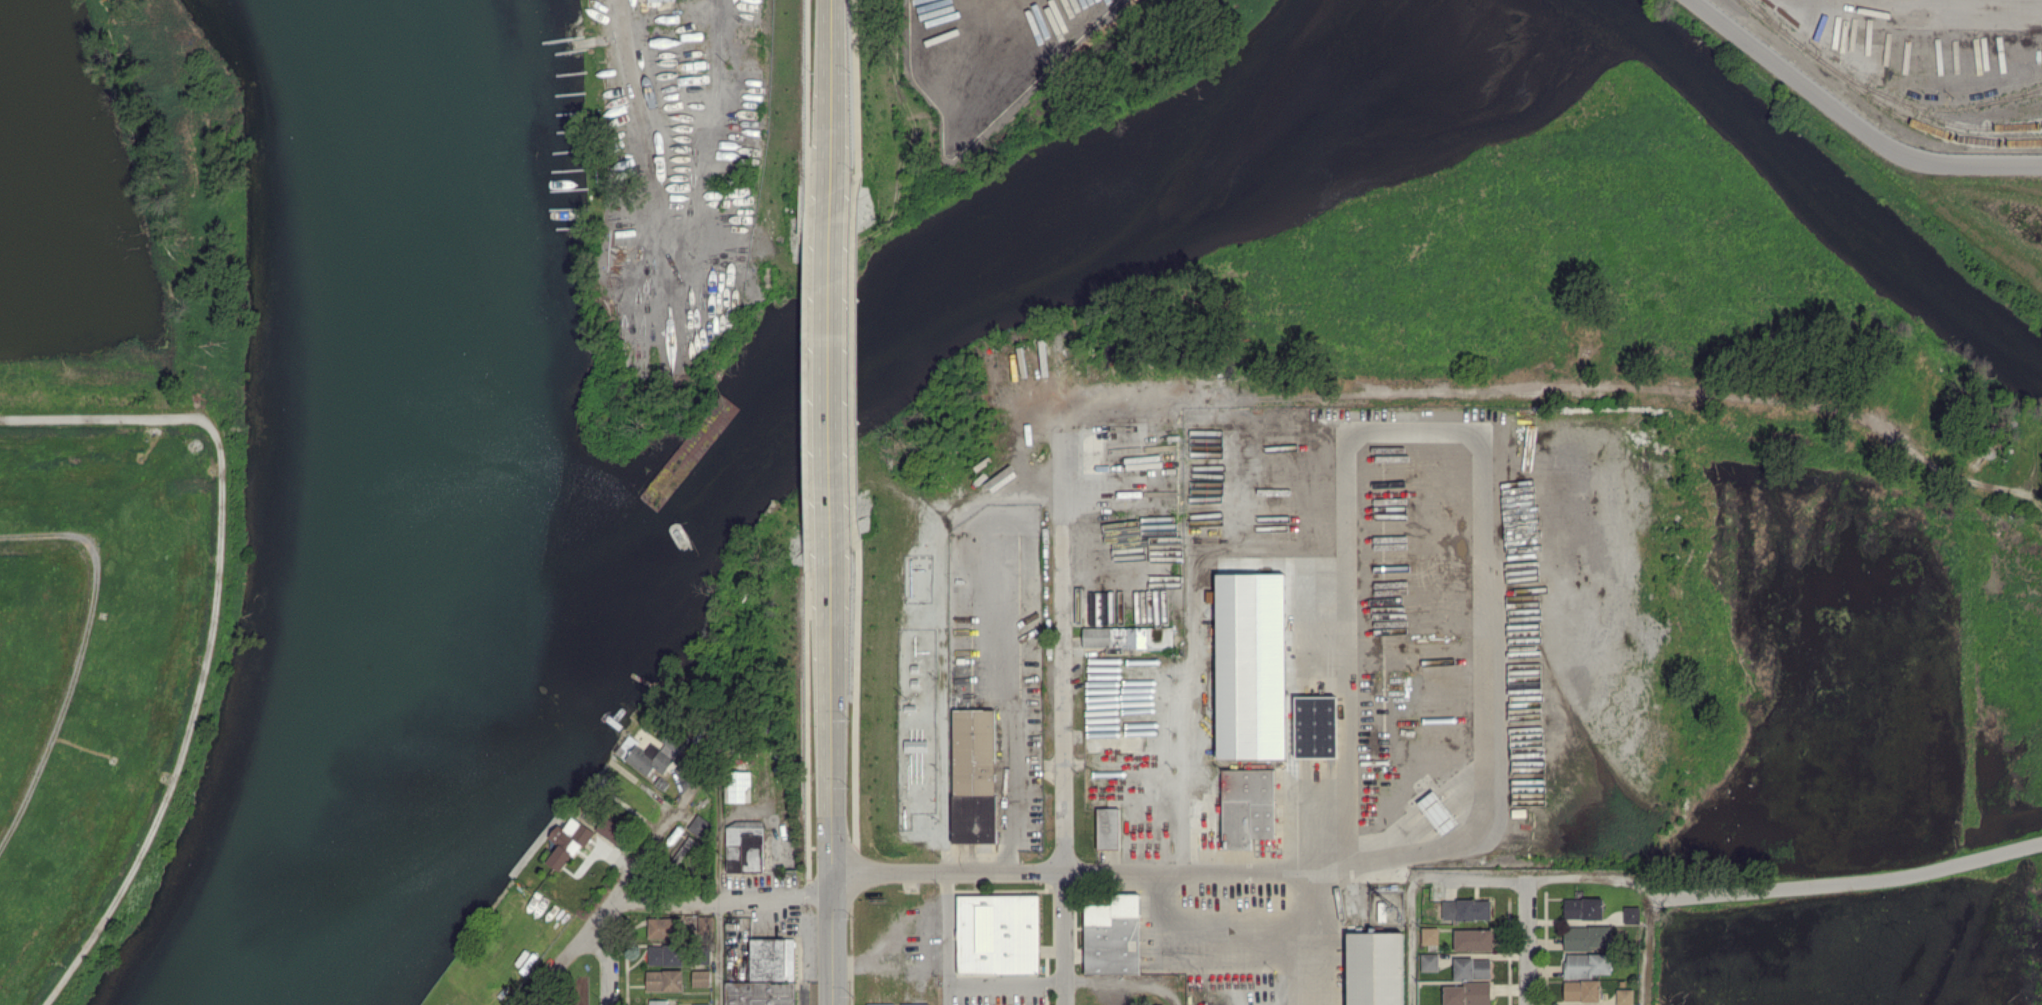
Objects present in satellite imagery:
railway: (1775, 22)
river: (1371, 90)
road: (830, 93)
railway: (2009, 98)
railway: (1877, 102)
railway: (1925, 105)
railway: (1950, 122)
railway: (2013, 123)
road: (1852, 124)
road: (668, 162)
road: (1479, 438)
road: (831, 451)
river: (409, 509)
river: (404, 518)
road: (214, 628)
building: (1127, 637)
road: (1191, 642)
landfill: (107, 656)
road: (83, 658)
building: (1251, 666)
road: (1062, 722)
building: (1315, 726)
building: (915, 745)
building: (645, 761)
building: (974, 776)
building: (739, 786)
building: (1246, 806)
building: (1437, 812)
building: (699, 825)
building: (1108, 828)
building: (566, 842)
building: (744, 846)
building: (684, 848)
road: (833, 860)
road: (1190, 869)
road: (963, 873)
road: (1530, 878)
road: (623, 879)
road: (716, 880)
road: (1847, 881)
road: (720, 899)
building: (1582, 908)
building: (1466, 909)
building: (1631, 915)
building: (705, 923)
building: (661, 927)
road: (1199, 927)
building: (997, 933)
building: (1112, 934)
building: (1429, 935)
road: (1285, 936)
building: (1587, 937)
road: (945, 939)
building: (1473, 939)
road: (1527, 941)
road: (1411, 942)
road: (1649, 942)
road: (608, 952)
building: (665, 955)
building: (772, 959)
building: (1429, 962)
building: (1587, 964)
building: (1374, 968)
building: (1472, 968)
building: (701, 978)
building: (664, 980)
road: (1005, 980)
road: (1124, 986)
building: (1581, 990)
building: (760, 993)
building: (1466, 994)
building: (1624, 996)
building: (657, 1002)
building: (701, 1004)

